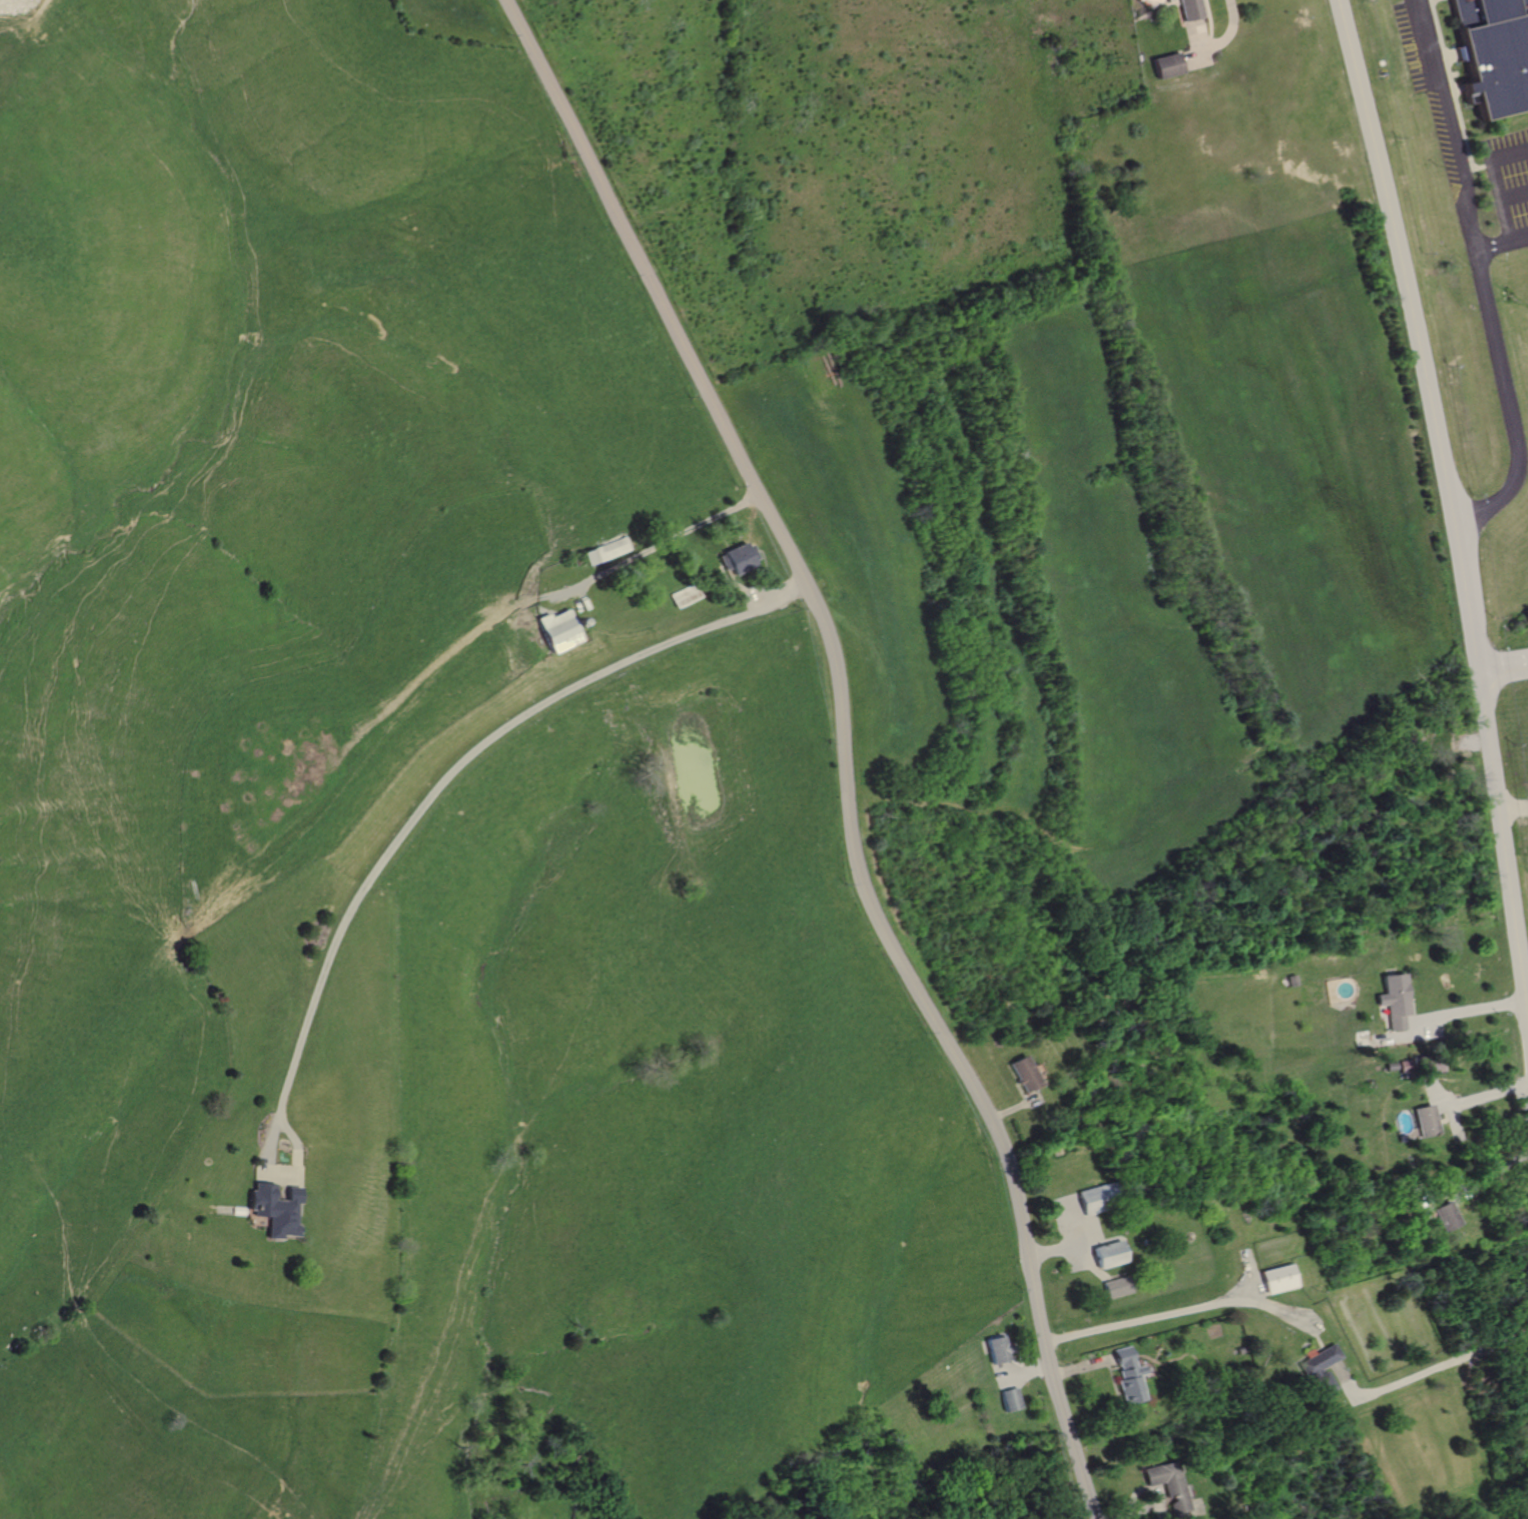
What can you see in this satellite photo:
building: (1185, 9)
road: (1231, 20)
building: (1496, 51)
building: (1163, 66)
road: (1454, 123)
road: (1499, 181)
road: (1516, 195)
road: (1502, 242)
road: (1510, 400)
road: (1448, 490)
building: (603, 550)
building: (737, 556)
building: (557, 631)
road: (1505, 673)
road: (841, 745)
road: (469, 759)
road: (1515, 806)
building: (1395, 1000)
road: (1471, 1011)
building: (1022, 1074)
road: (1484, 1096)
building: (1426, 1121)
road: (1490, 1172)
building: (1091, 1200)
building: (274, 1210)
building: (1446, 1217)
building: (1107, 1255)
building: (1274, 1279)
building: (1115, 1288)
road: (1149, 1318)
building: (998, 1349)
building: (1317, 1369)
road: (1430, 1373)
building: (1128, 1375)
building: (1011, 1400)
building: (1169, 1484)

